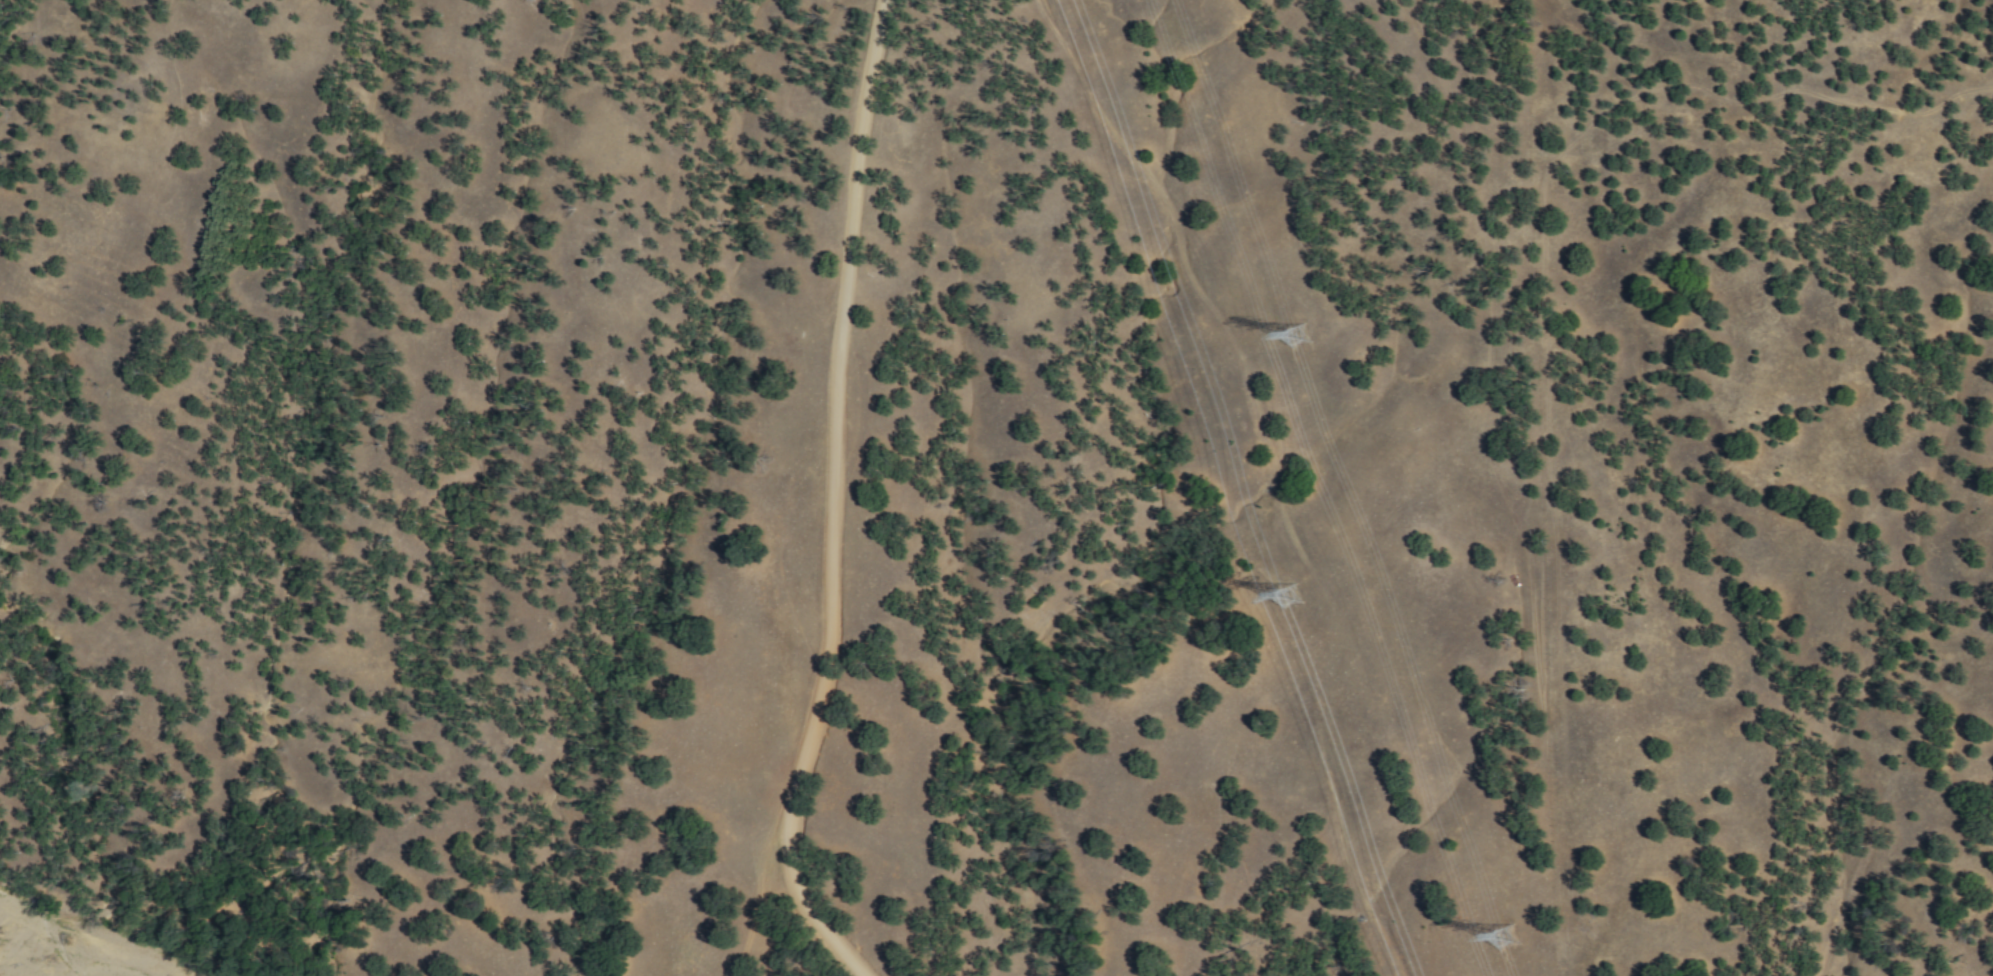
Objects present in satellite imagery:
power tower: (1293, 319)
road: (842, 499)
power tower: (1279, 581)
power tower: (1500, 923)
river: (91, 927)

